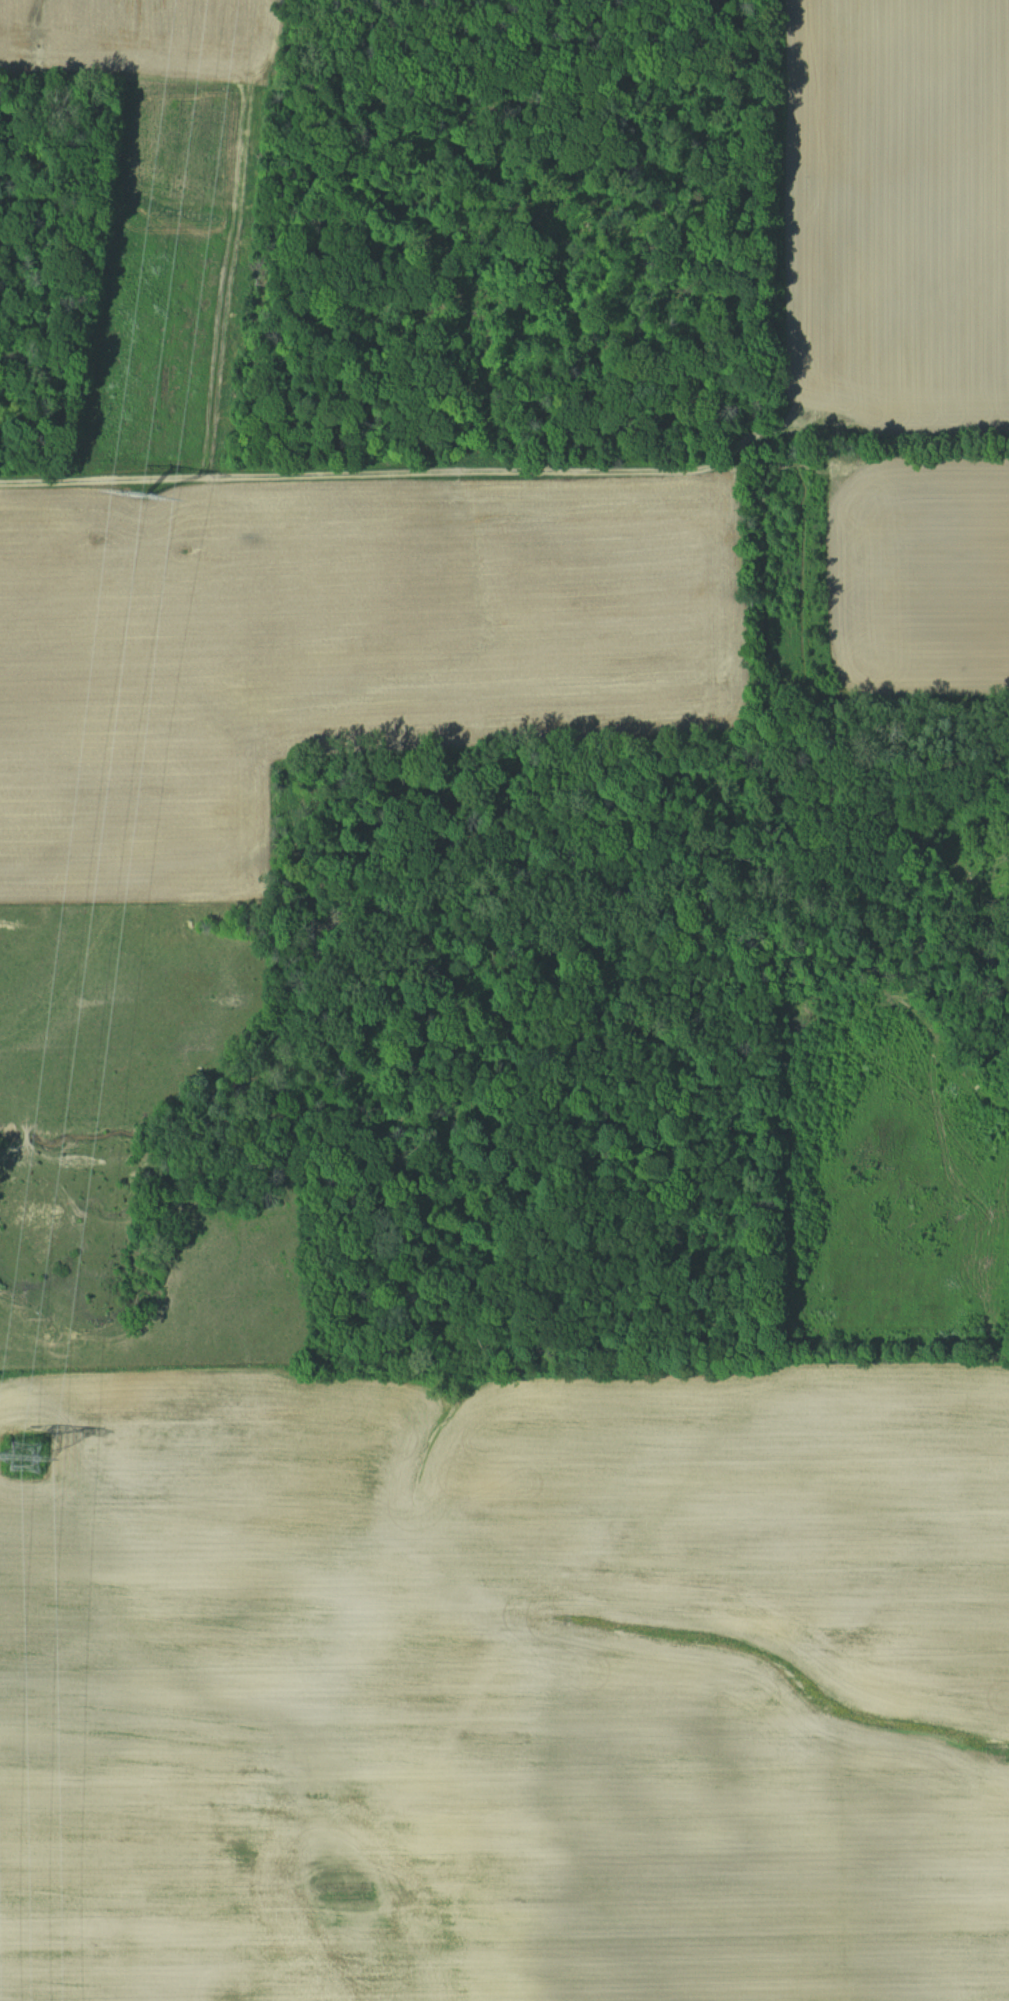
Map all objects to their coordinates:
power tower: (148, 495)
power tower: (29, 1455)

